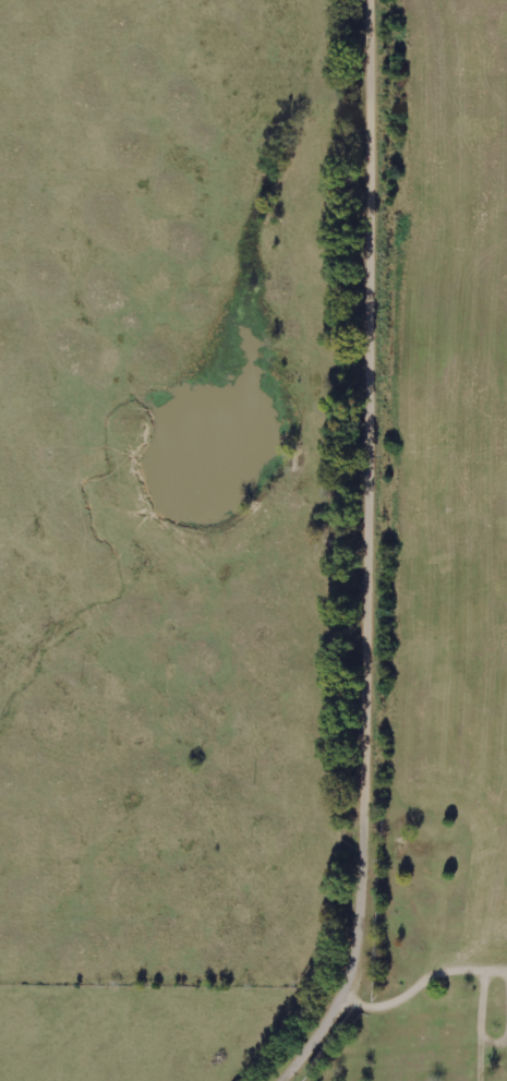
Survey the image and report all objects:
road: (374, 550)

